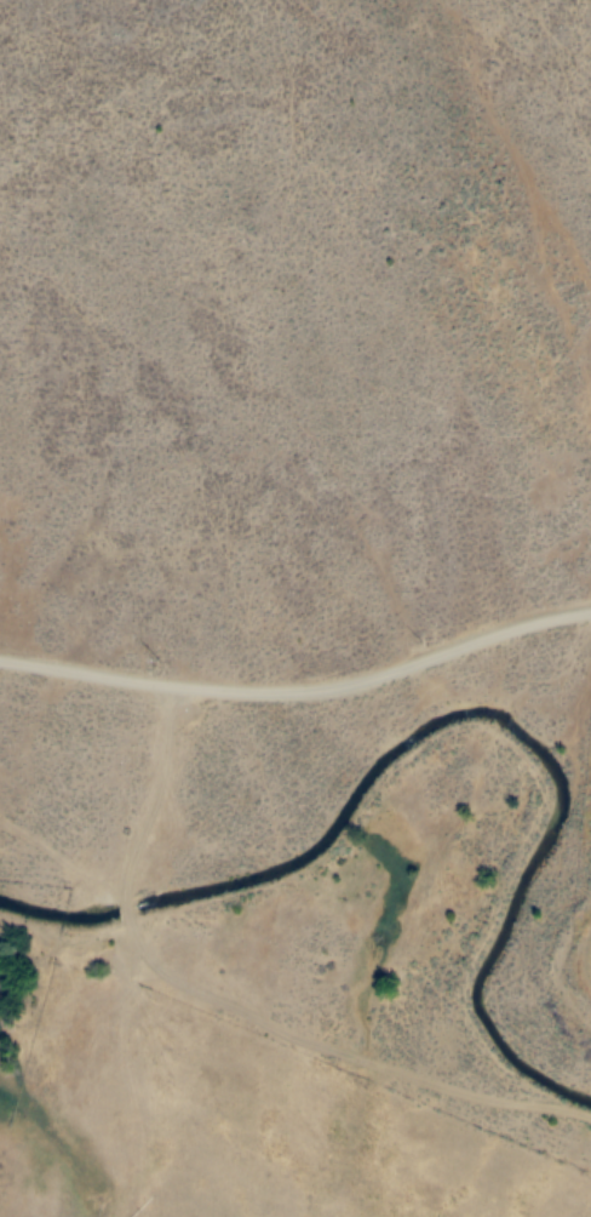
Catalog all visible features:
road: (295, 673)

